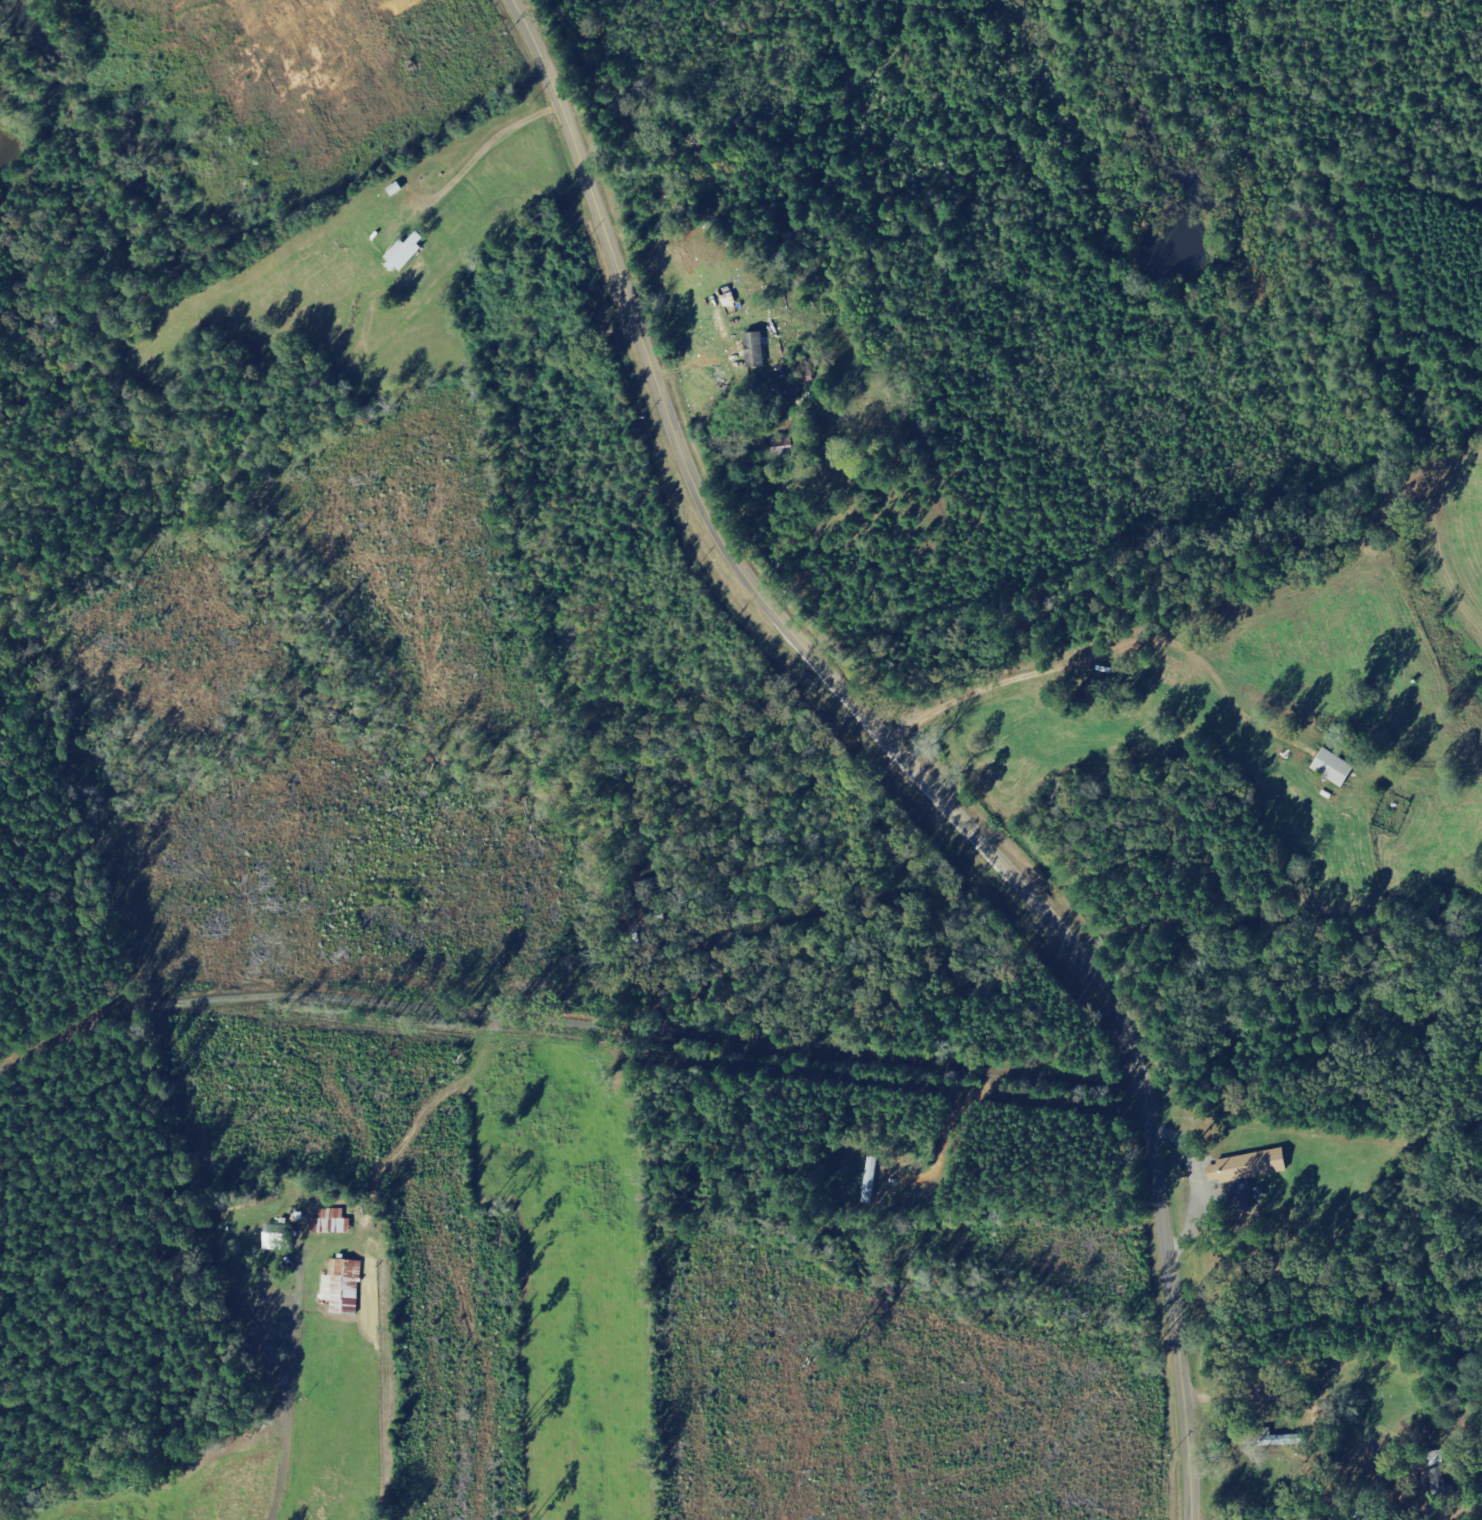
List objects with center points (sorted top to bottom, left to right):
building: (408, 253)
building: (758, 350)
building: (791, 447)
road: (899, 750)
building: (1338, 768)
road: (570, 1005)
building: (1258, 1165)
building: (873, 1180)
building: (280, 1238)
building: (346, 1287)
road: (61, 1300)

